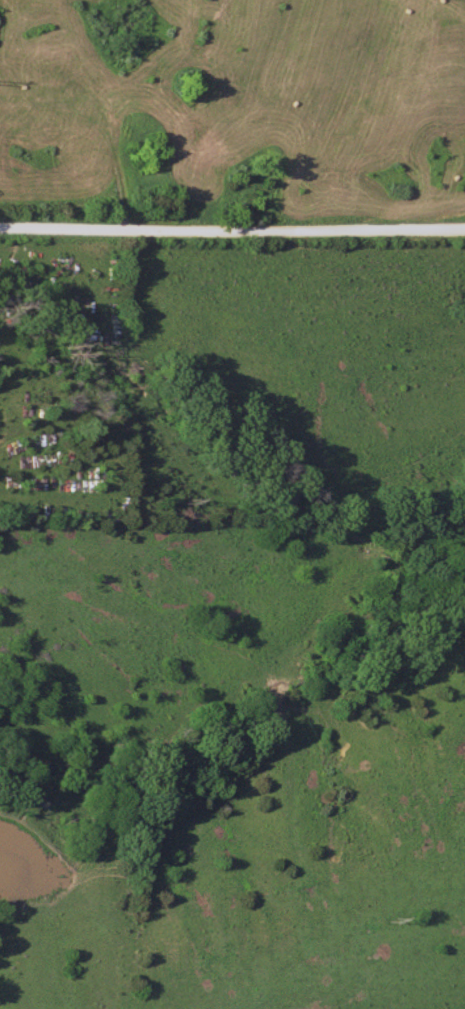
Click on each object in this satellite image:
road: (232, 225)

